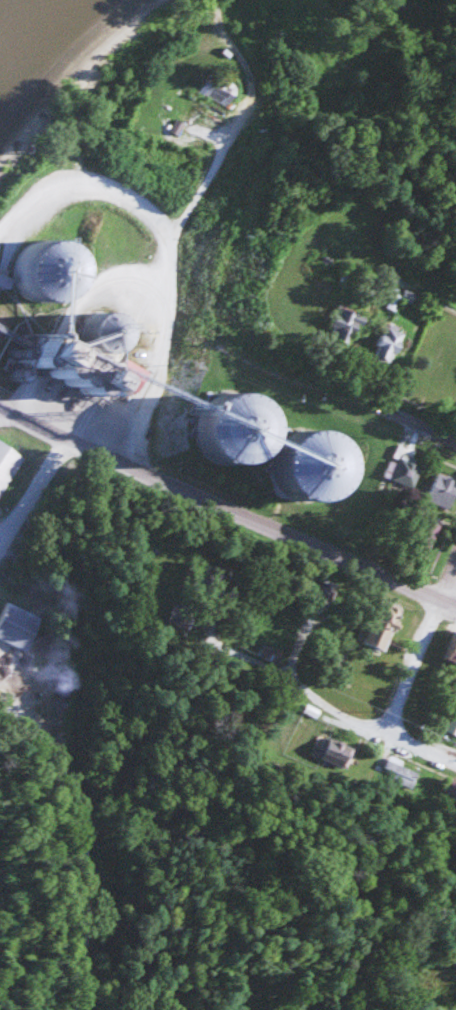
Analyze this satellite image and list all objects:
building: (220, 88)
road: (205, 188)
road: (69, 217)
building: (326, 266)
road: (381, 273)
building: (408, 296)
building: (311, 313)
building: (344, 325)
building: (386, 344)
road: (320, 386)
road: (156, 400)
building: (246, 430)
building: (8, 465)
building: (320, 465)
building: (400, 472)
building: (442, 489)
road: (226, 508)
building: (426, 535)
road: (449, 583)
road: (86, 598)
building: (382, 624)
building: (16, 625)
building: (453, 654)
road: (410, 664)
building: (455, 678)
road: (321, 705)
road: (418, 755)
building: (399, 771)
road: (75, 847)

